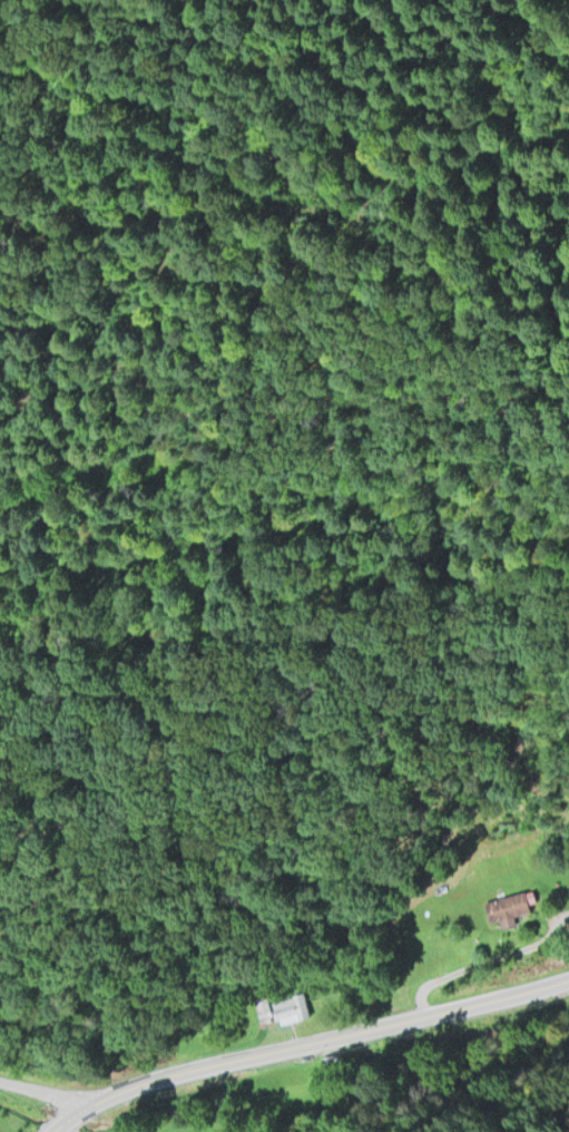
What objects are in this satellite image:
building: (508, 904)
road: (481, 958)
building: (281, 1006)
road: (306, 1043)
building: (336, 1063)
road: (47, 1091)

